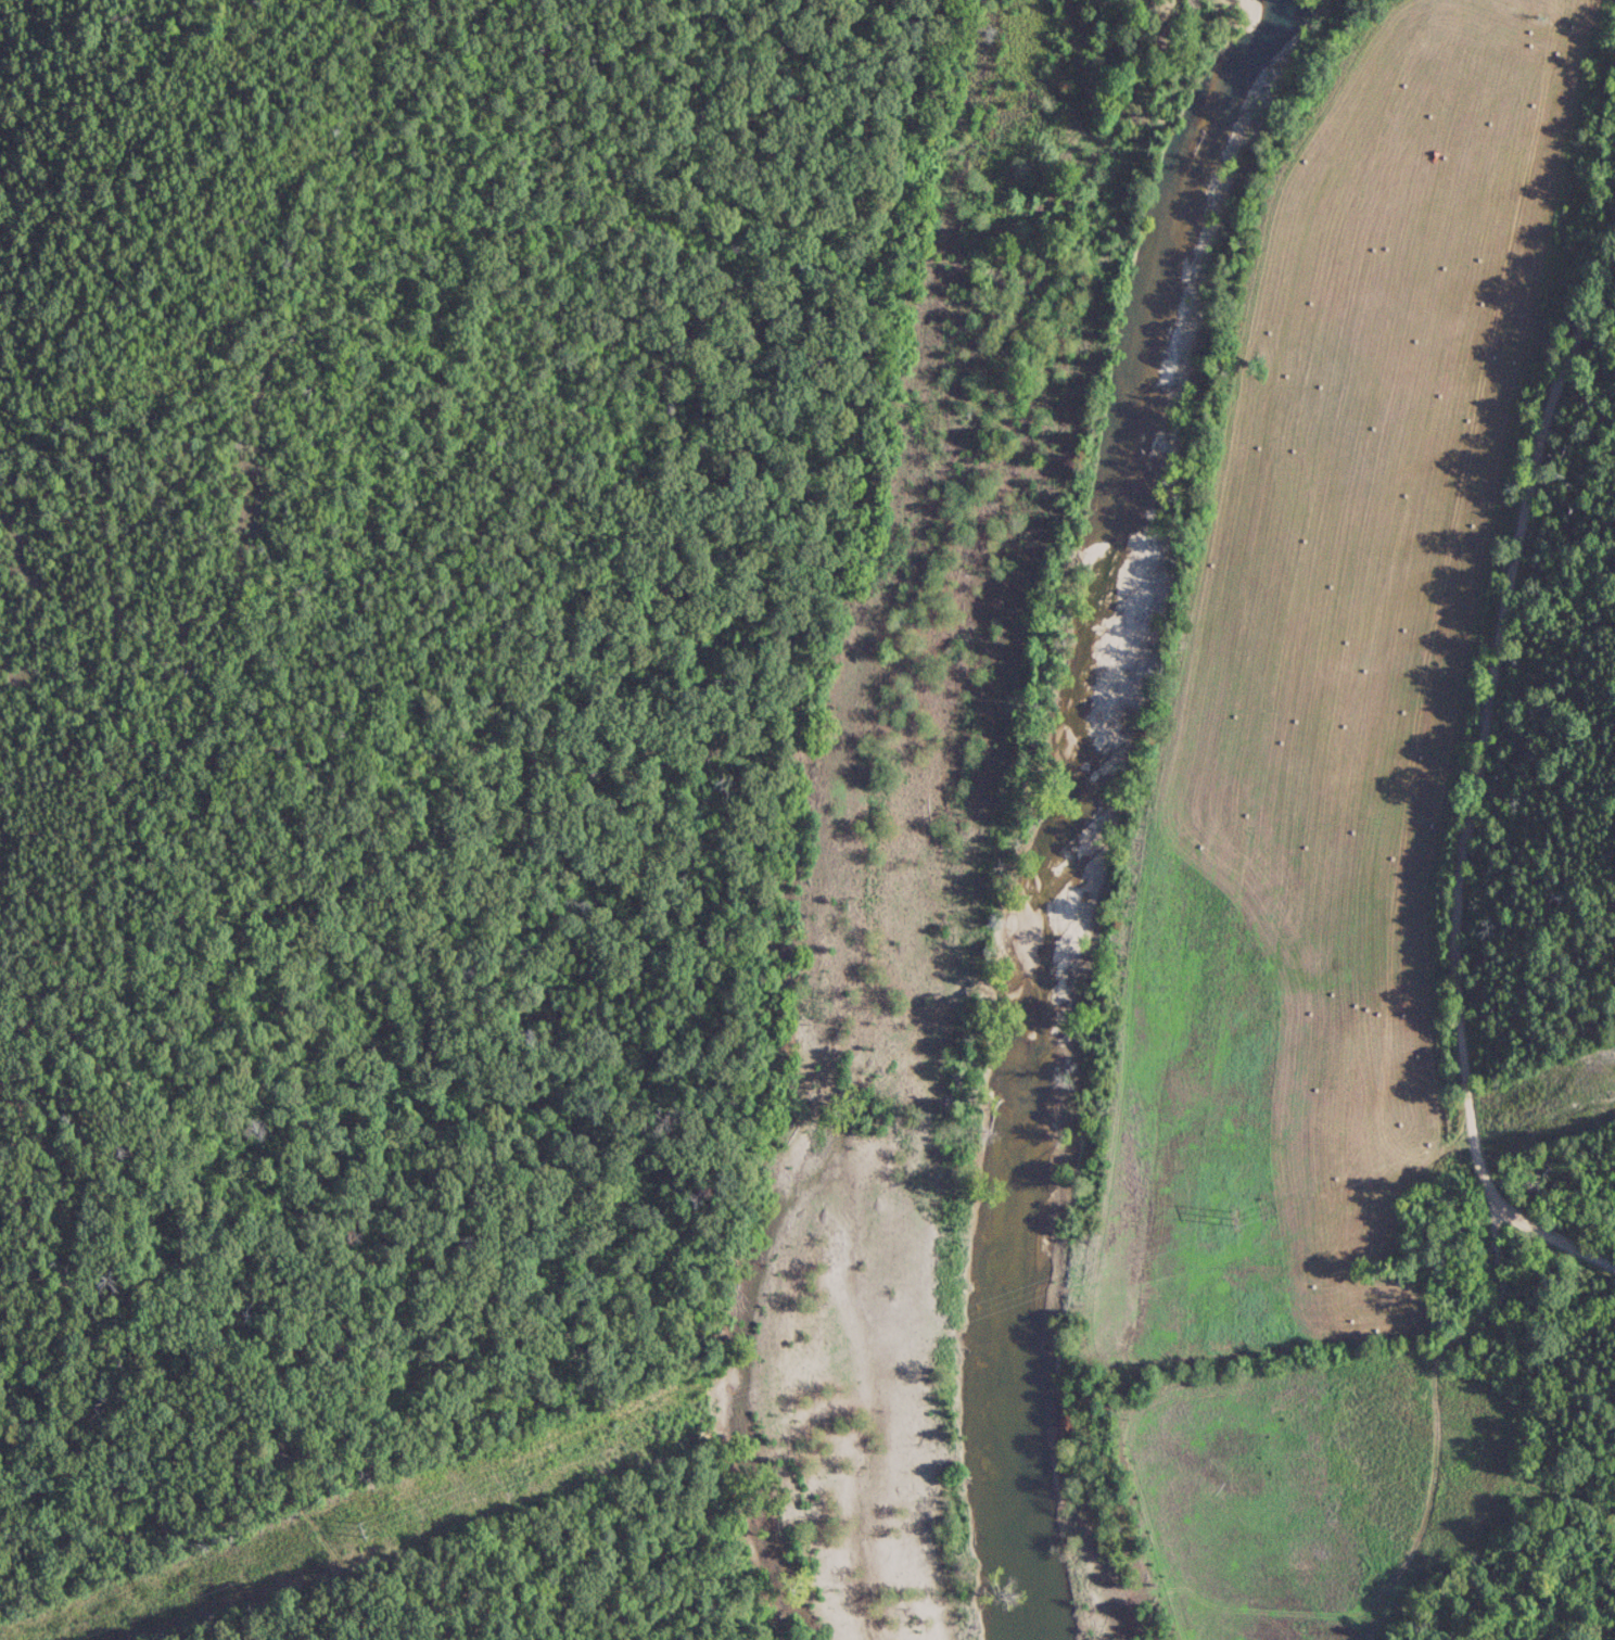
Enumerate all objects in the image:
road: (1419, 790)

